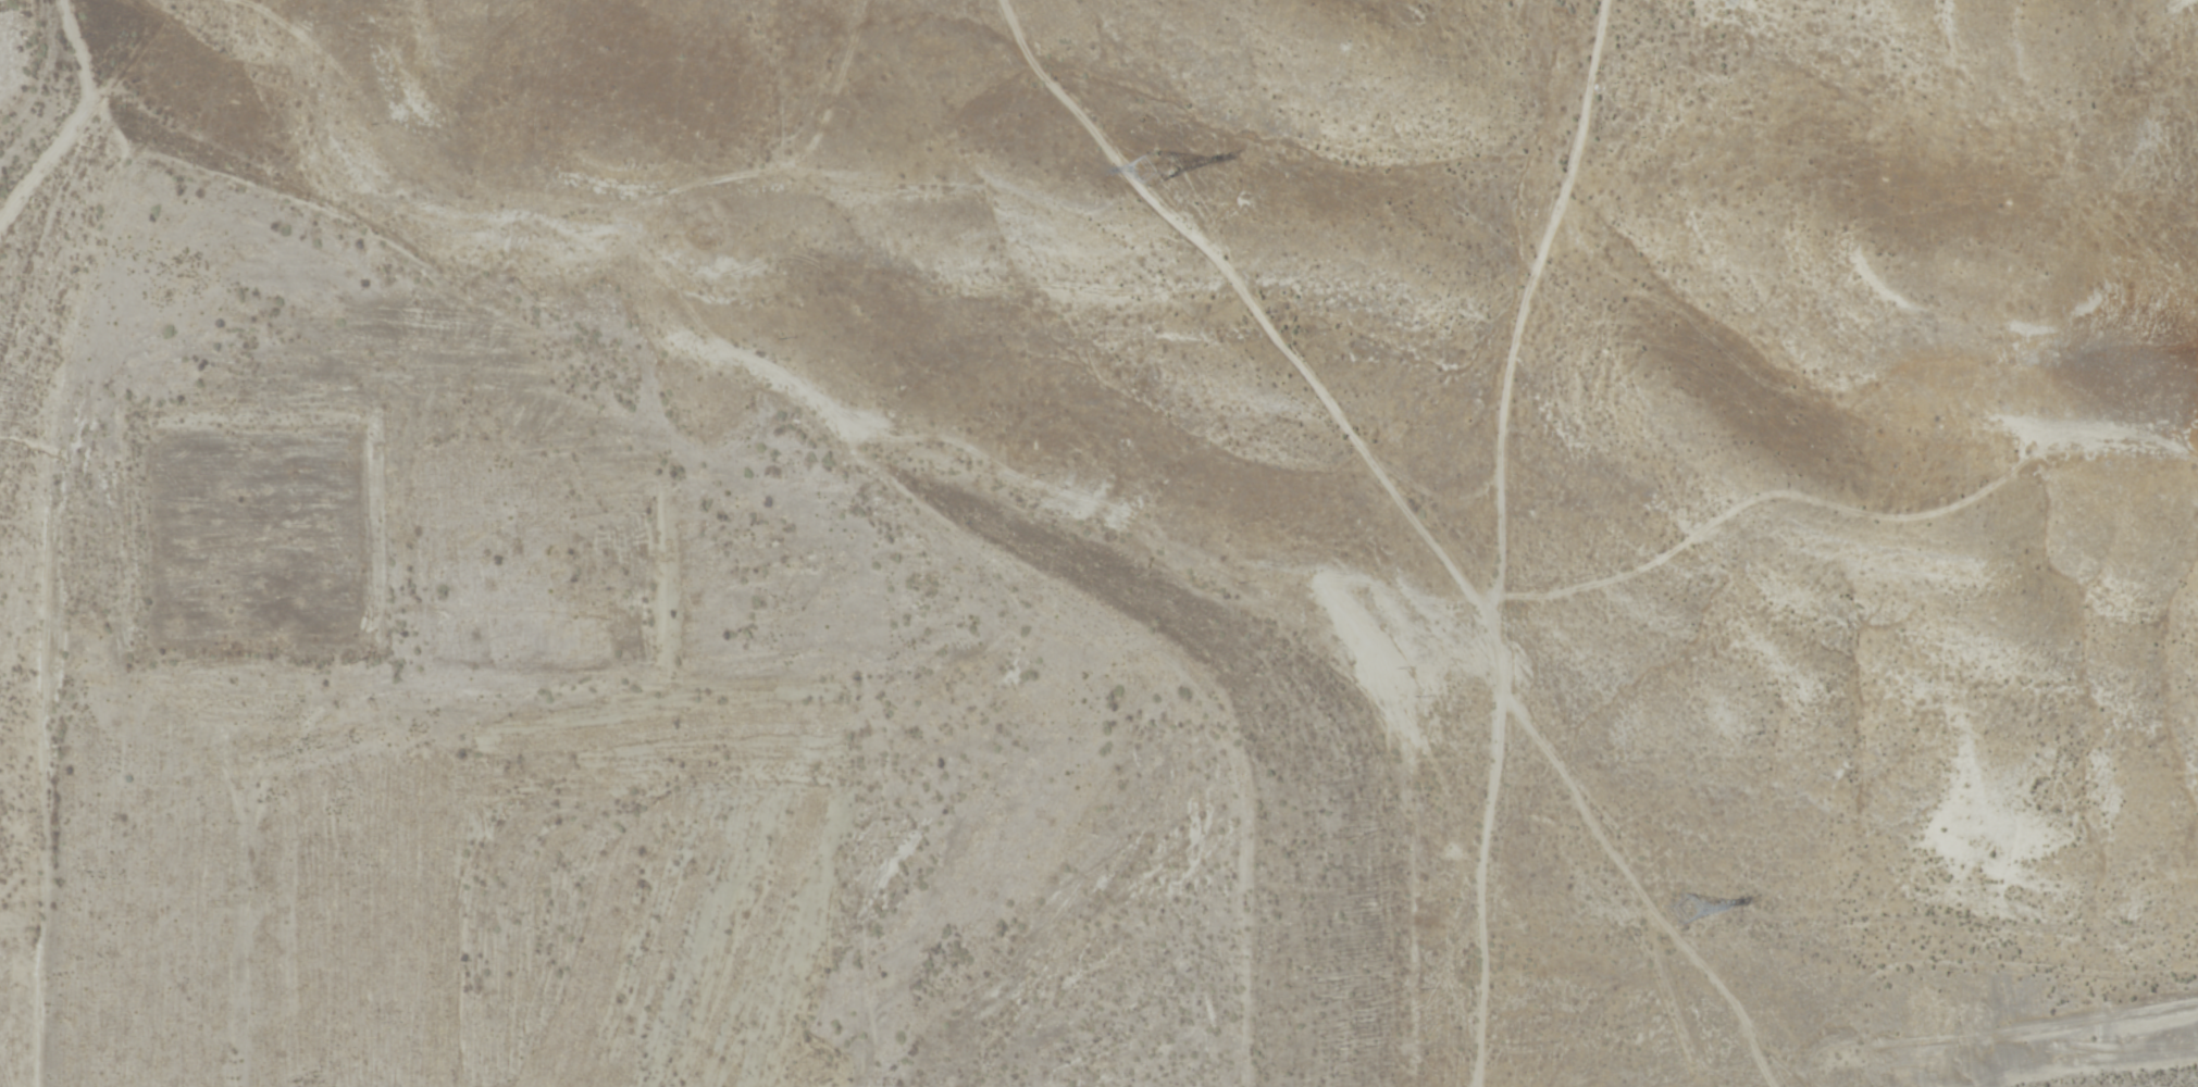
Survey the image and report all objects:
road: (790, 67)
power tower: (1145, 167)
road: (1533, 545)
road: (1441, 553)
road: (410, 654)
power tower: (1673, 908)
road: (1761, 958)
road: (1590, 1062)

